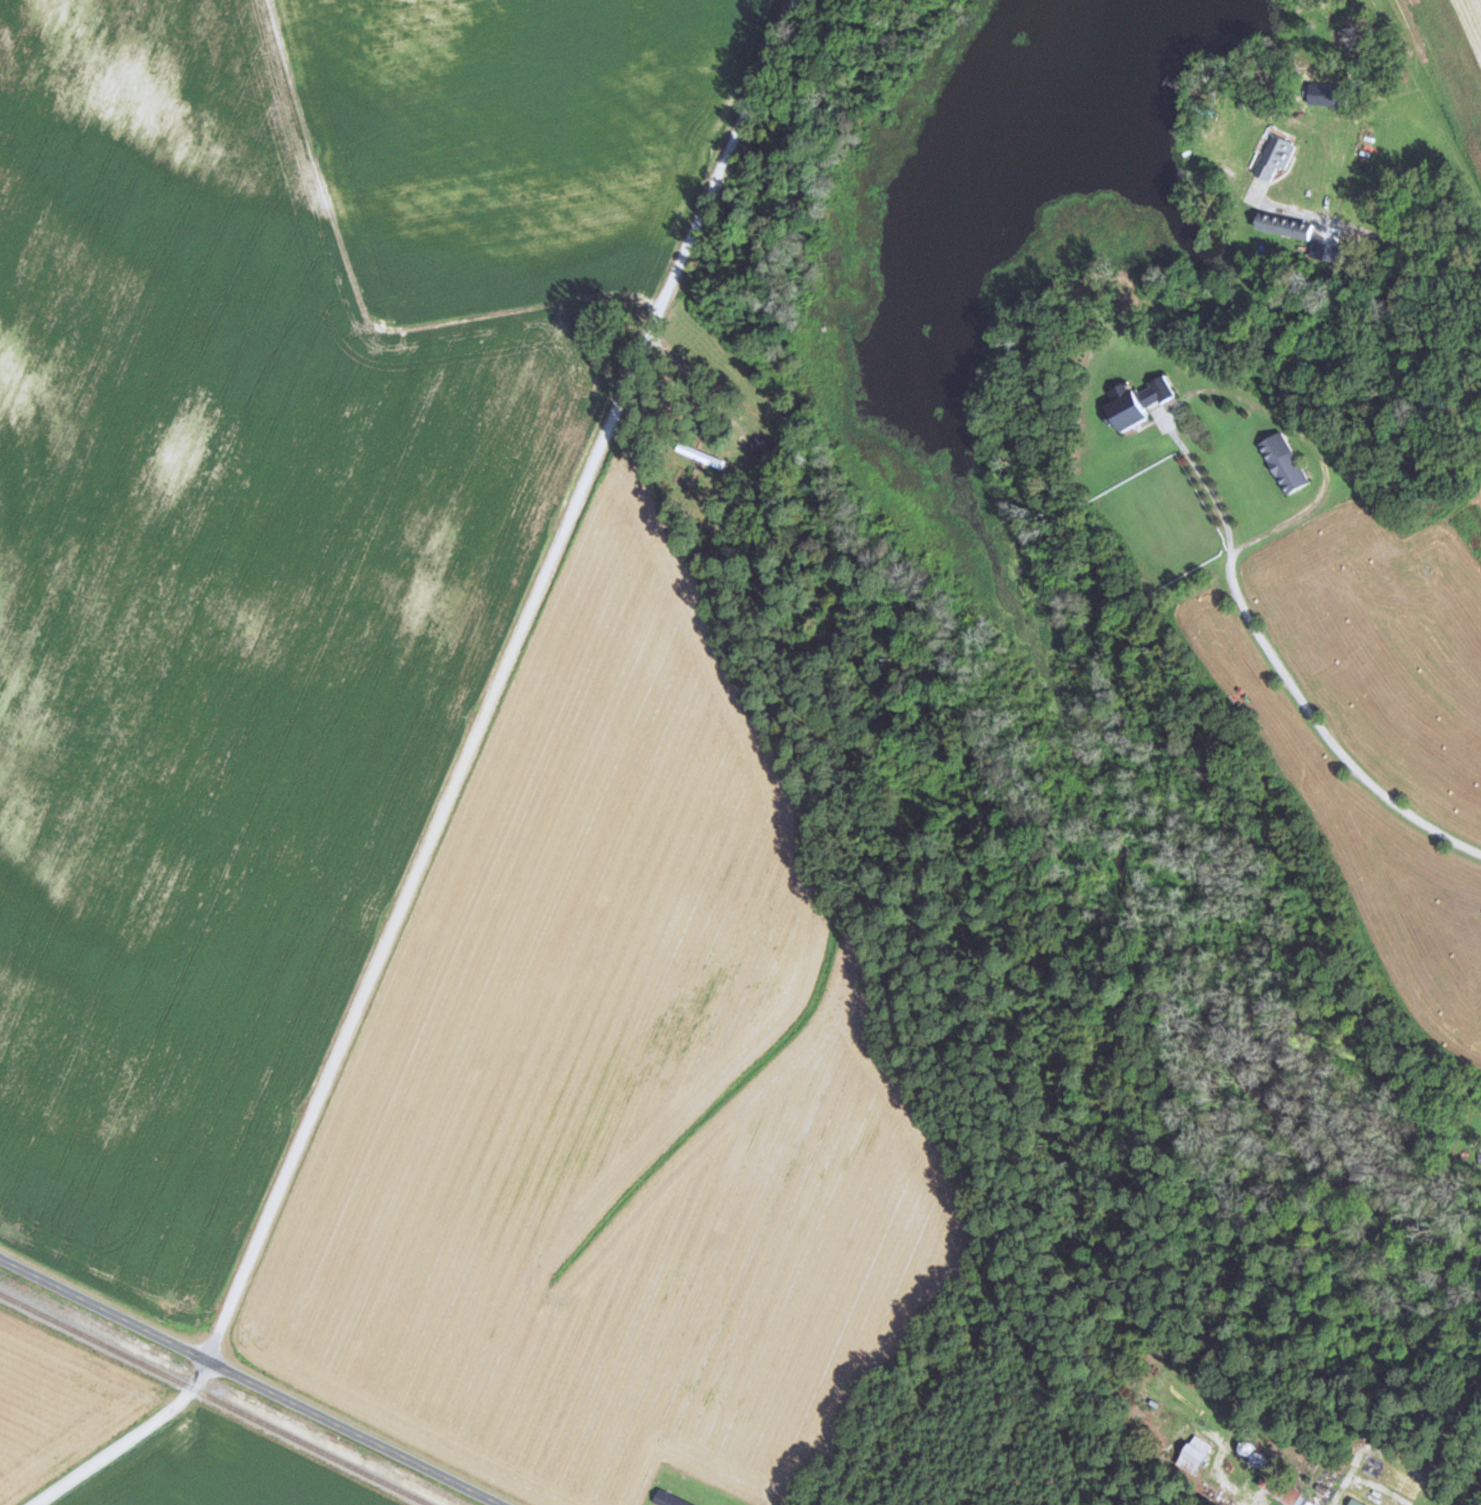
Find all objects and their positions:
building: (1276, 156)
building: (1298, 228)
building: (1138, 402)
building: (766, 449)
building: (1283, 463)
road: (1328, 729)
road: (454, 782)
road: (246, 1383)
railway: (215, 1398)
building: (1196, 1455)
building: (1378, 1485)
building: (1287, 1491)
building: (669, 1499)
road: (1478, 1500)

